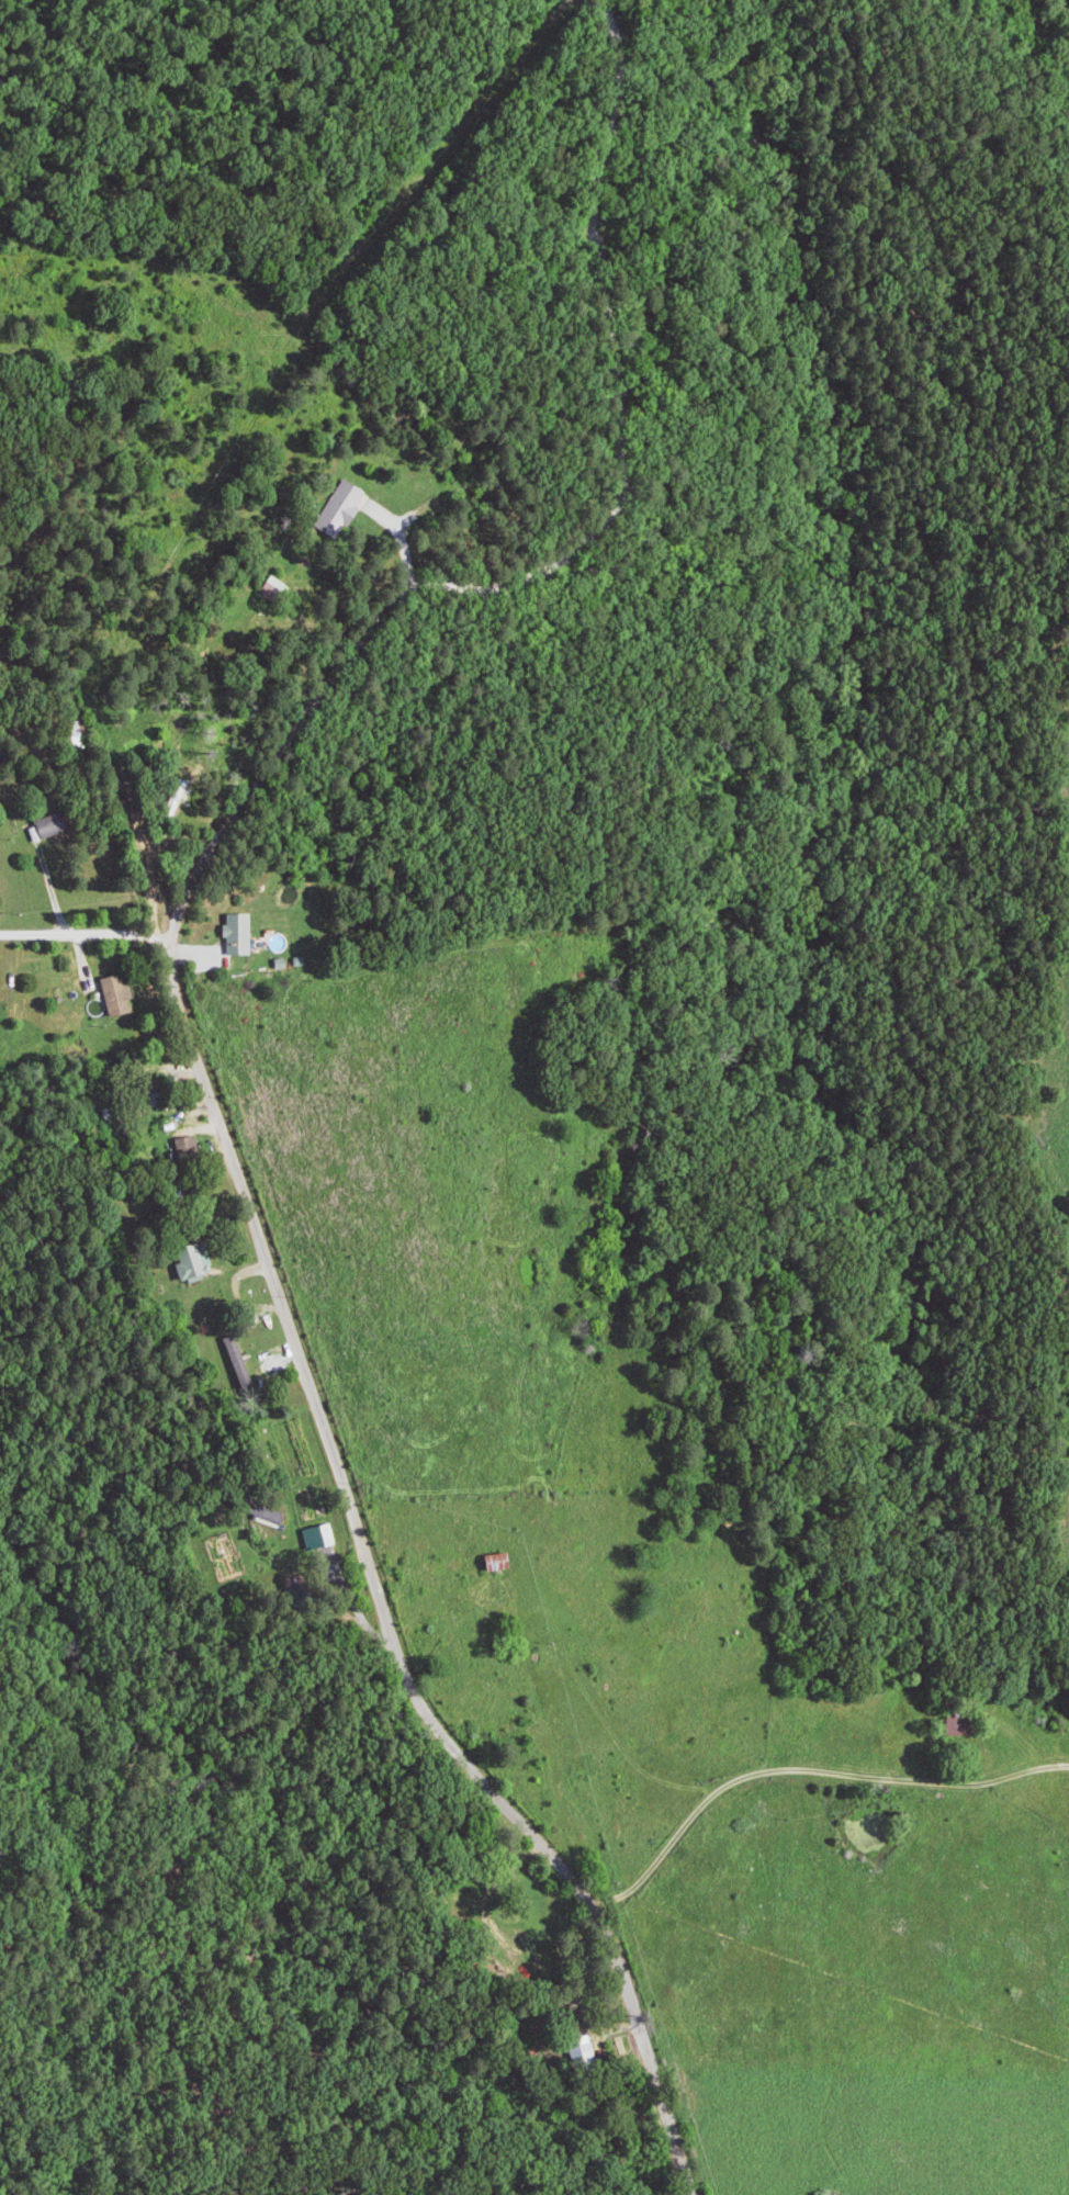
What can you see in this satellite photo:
road: (143, 856)
road: (79, 932)
building: (244, 934)
road: (167, 969)
building: (125, 994)
road: (187, 1148)
building: (194, 1268)
building: (243, 1361)
road: (806, 1767)

